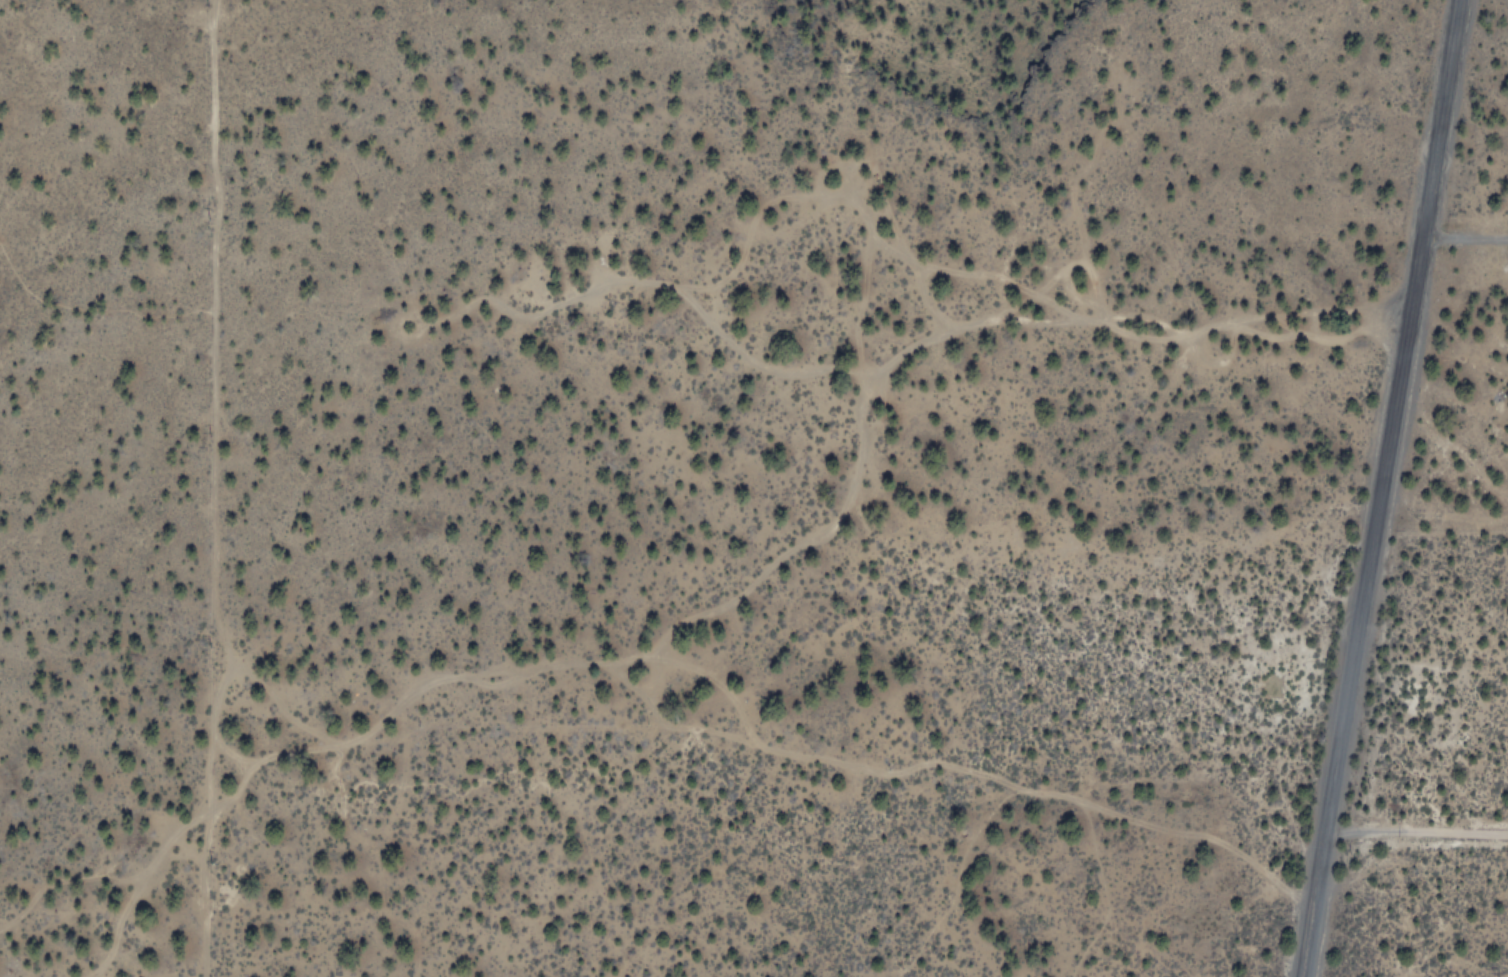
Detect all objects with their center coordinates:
road: (1075, 197)
road: (979, 275)
road: (926, 296)
road: (90, 310)
road: (1046, 321)
road: (1154, 337)
road: (873, 368)
road: (1379, 487)
road: (211, 490)
road: (563, 663)
road: (280, 700)
road: (660, 718)
road: (233, 751)
road: (967, 769)
road: (62, 885)

